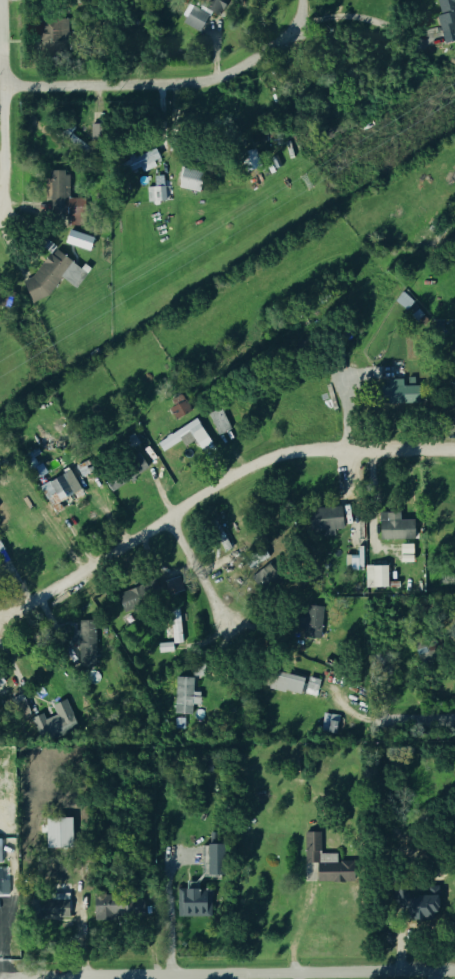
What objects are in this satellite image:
building: (442, 17)
building: (196, 19)
road: (364, 20)
building: (52, 34)
road: (171, 83)
road: (3, 97)
building: (250, 160)
building: (275, 161)
building: (141, 162)
building: (191, 179)
power tower: (303, 185)
building: (155, 192)
building: (57, 198)
building: (80, 240)
building: (52, 276)
building: (404, 300)
building: (452, 392)
building: (396, 393)
building: (178, 407)
road: (345, 414)
building: (218, 422)
building: (185, 437)
building: (122, 472)
road: (212, 487)
building: (58, 491)
building: (323, 521)
building: (393, 528)
building: (4, 560)
road: (197, 570)
building: (375, 577)
building: (174, 586)
building: (132, 599)
building: (313, 622)
building: (176, 626)
building: (166, 647)
road: (15, 678)
building: (313, 684)
building: (184, 695)
road: (422, 719)
building: (56, 720)
building: (180, 723)
building: (60, 834)
building: (211, 861)
building: (323, 864)
building: (3, 888)
building: (193, 904)
building: (417, 904)
road: (170, 907)
building: (52, 908)
building: (114, 911)
road: (303, 928)
road: (227, 974)
road: (435, 974)
road: (83, 977)
road: (150, 977)
road: (5, 978)

